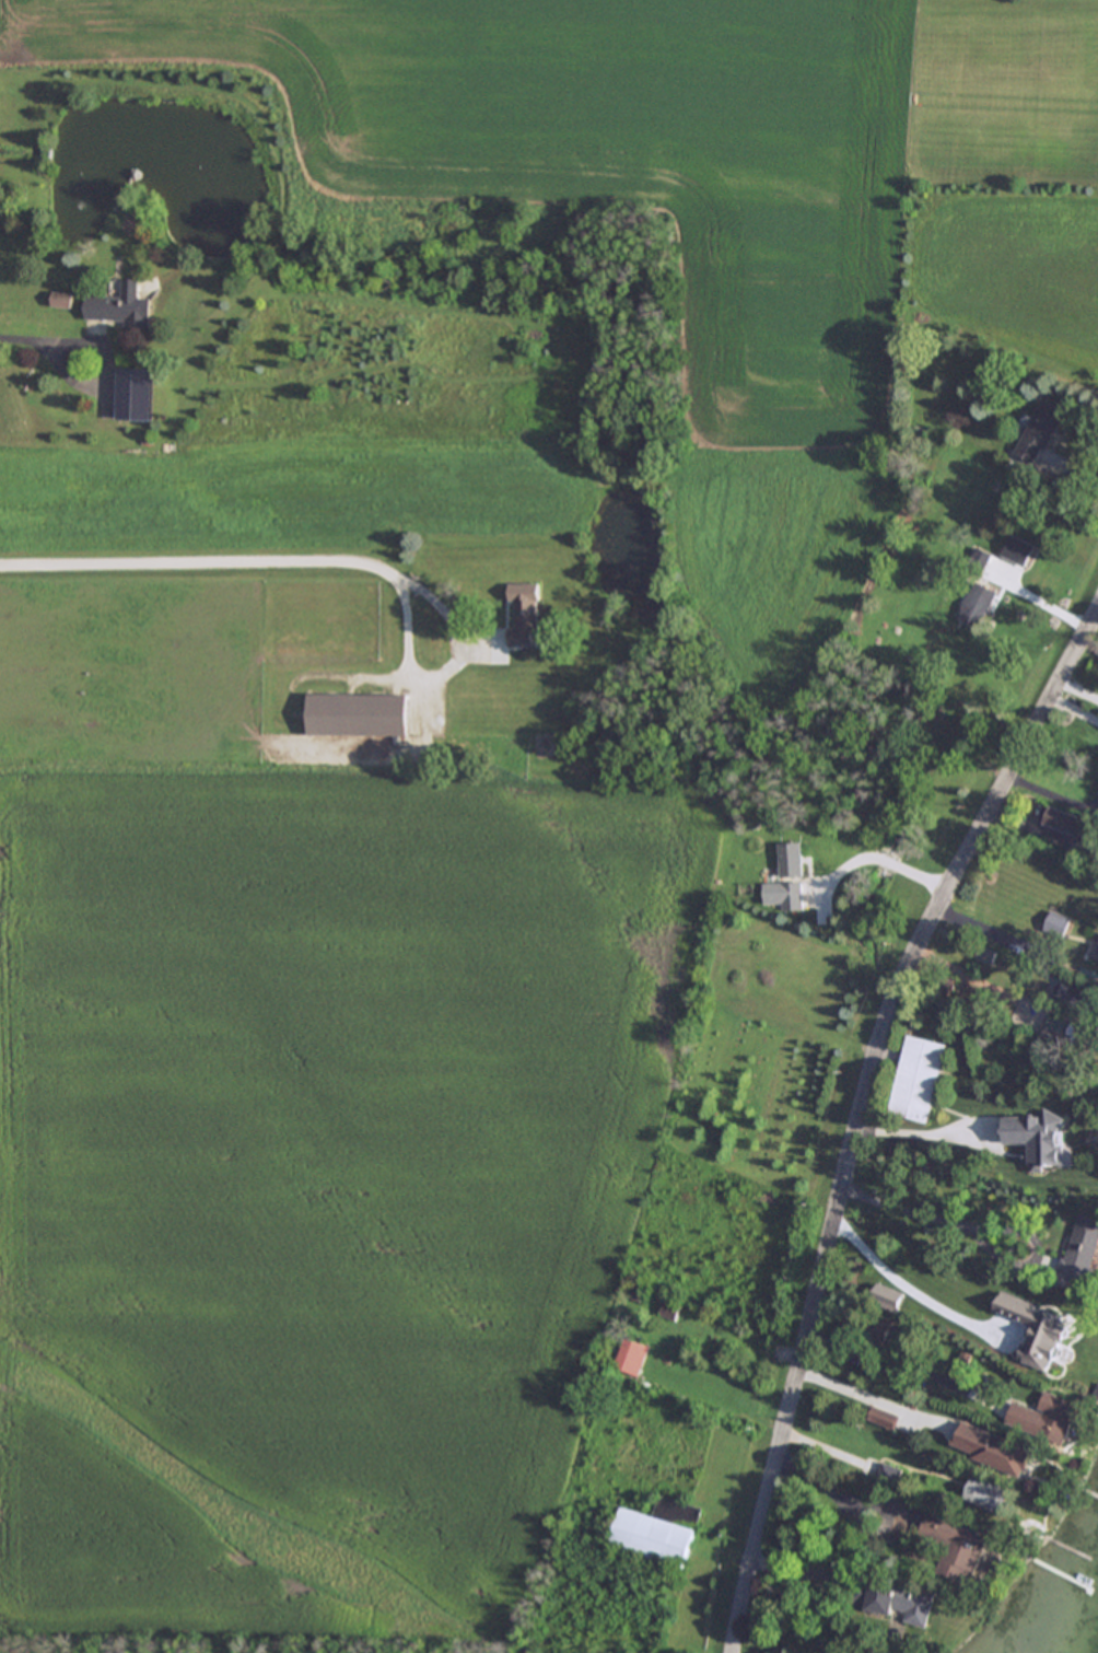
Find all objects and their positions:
building: (120, 306)
road: (44, 344)
building: (125, 389)
building: (1040, 432)
building: (1018, 550)
road: (231, 556)
building: (979, 602)
building: (523, 613)
road: (1073, 709)
building: (358, 714)
building: (1065, 822)
road: (1043, 829)
road: (879, 857)
building: (791, 859)
building: (784, 895)
building: (1059, 923)
road: (1014, 932)
building: (986, 955)
building: (1074, 994)
building: (1055, 1029)
building: (918, 1078)
road: (860, 1109)
road: (919, 1130)
building: (1036, 1138)
road: (939, 1219)
building: (1082, 1248)
building: (668, 1308)
road: (959, 1322)
building: (1058, 1339)
building: (631, 1357)
road: (888, 1377)
road: (875, 1396)
building: (884, 1417)
building: (1047, 1418)
building: (993, 1448)
building: (990, 1494)
road: (840, 1495)
building: (658, 1530)
building: (956, 1545)
building: (895, 1598)

